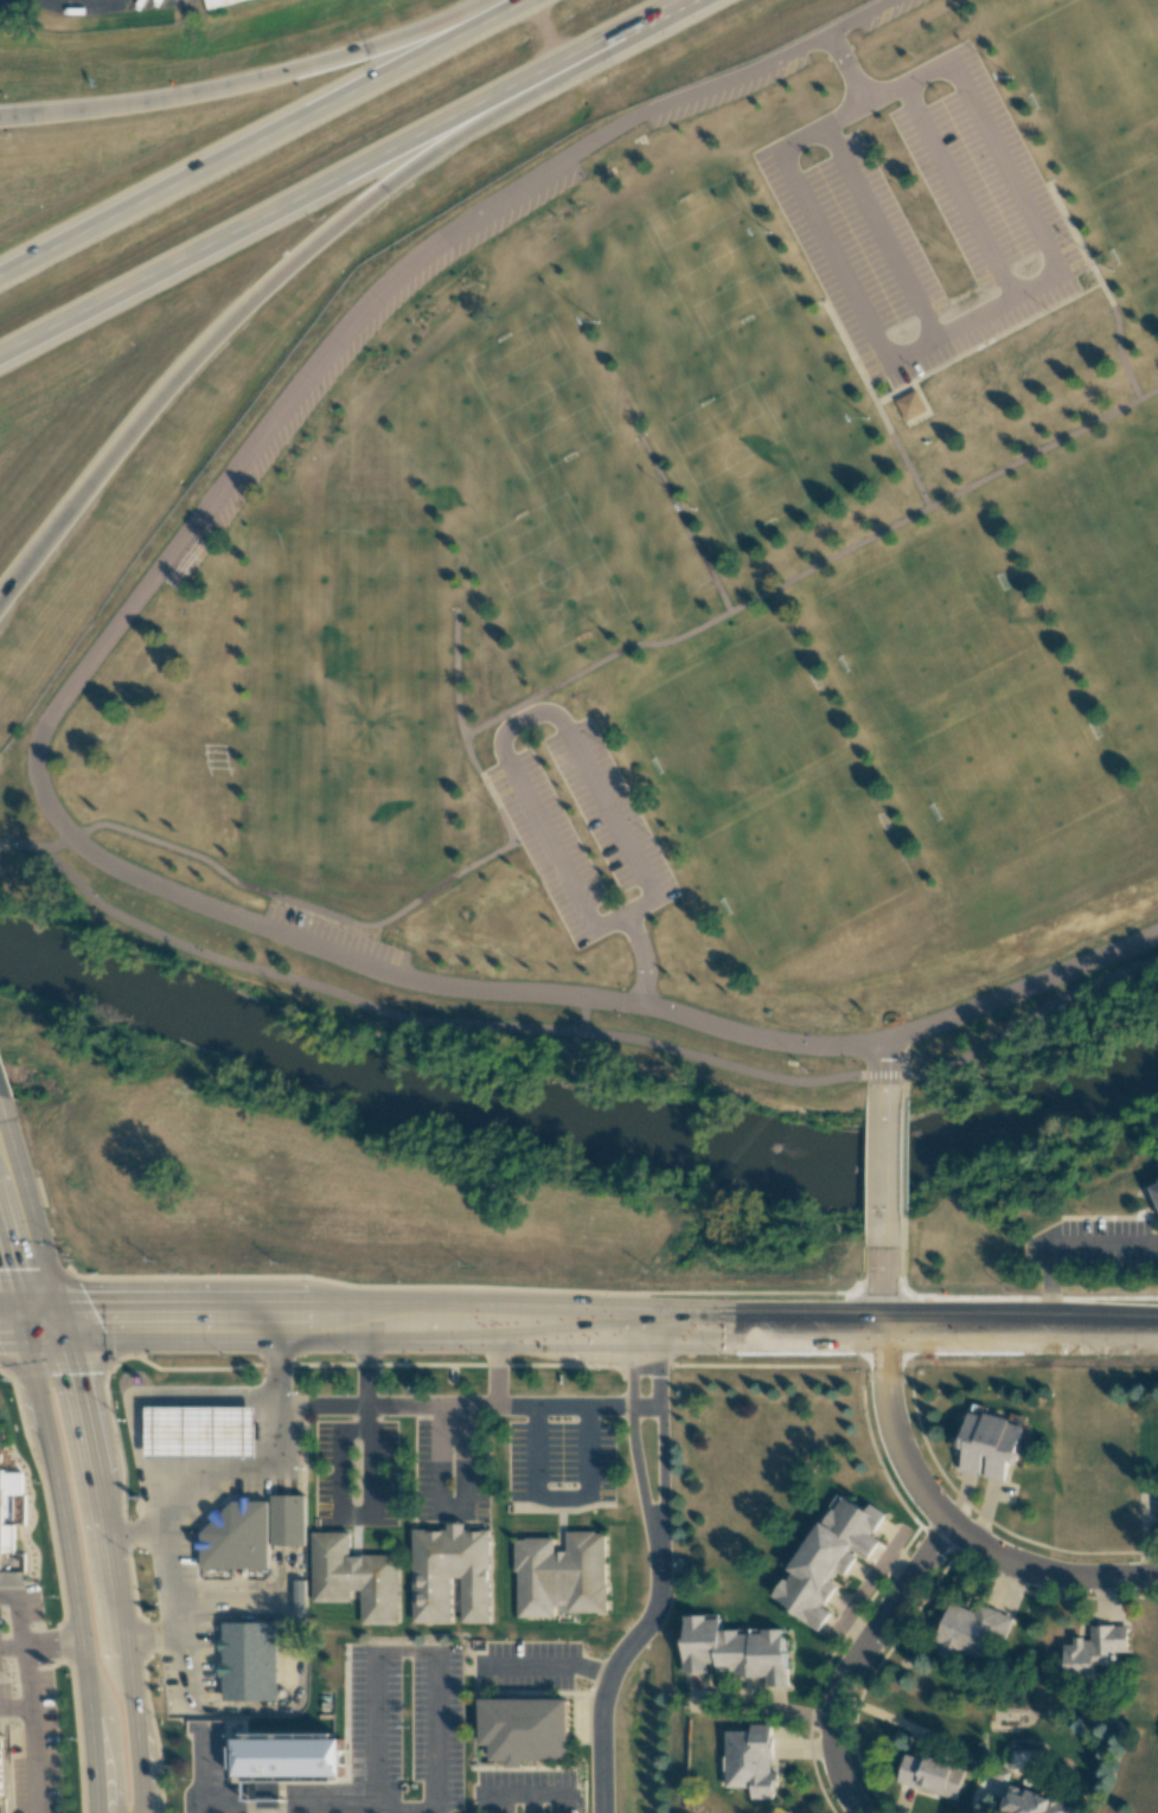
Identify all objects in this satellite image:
building: (212, 1)
road: (73, 5)
parking lot: (863, 9)
road: (653, 15)
road: (546, 31)
road: (258, 79)
parking lot: (723, 82)
road: (908, 82)
park: (1103, 118)
road: (261, 136)
road: (311, 192)
parking lot: (921, 217)
road: (276, 276)
road: (1094, 278)
road: (881, 340)
park: (732, 377)
parking lot: (318, 380)
road: (870, 393)
building: (910, 405)
park: (544, 486)
park: (1095, 514)
road: (683, 524)
road: (755, 597)
park: (909, 614)
park: (1126, 649)
park: (629, 703)
road: (559, 715)
park: (348, 719)
park: (973, 738)
park: (769, 792)
road: (47, 805)
parking lot: (582, 832)
road: (21, 844)
road: (279, 895)
parking lot: (335, 938)
road: (586, 1013)
road: (1022, 1021)
road: (446, 1023)
road: (904, 1061)
road: (885, 1062)
river: (572, 1136)
road: (903, 1157)
road: (883, 1167)
building: (1154, 1193)
road: (1061, 1244)
road: (19, 1256)
road: (901, 1280)
road: (882, 1288)
road: (19, 1326)
traffic signals: (38, 1326)
road: (597, 1327)
road: (364, 1367)
road: (497, 1369)
road: (467, 1409)
road: (64, 1433)
building: (193, 1437)
road: (661, 1441)
road: (631, 1442)
building: (990, 1443)
road: (242, 1478)
building: (12, 1484)
road: (561, 1498)
road: (443, 1507)
building: (288, 1519)
road: (948, 1529)
building: (237, 1538)
building: (6, 1543)
building: (828, 1558)
building: (450, 1575)
building: (561, 1575)
building: (354, 1577)
building: (970, 1631)
road: (68, 1645)
building: (1094, 1649)
road: (409, 1651)
building: (735, 1651)
road: (849, 1659)
building: (250, 1661)
road: (548, 1665)
parking lot: (527, 1668)
road: (116, 1676)
road: (612, 1679)
road: (31, 1698)
parking lot: (377, 1723)
building: (524, 1729)
building: (287, 1755)
building: (750, 1761)
building: (0, 1774)
building: (932, 1775)
parking lot: (526, 1793)
road: (525, 1795)
building: (1032, 1802)
road: (529, 1804)
road: (307, 1807)

